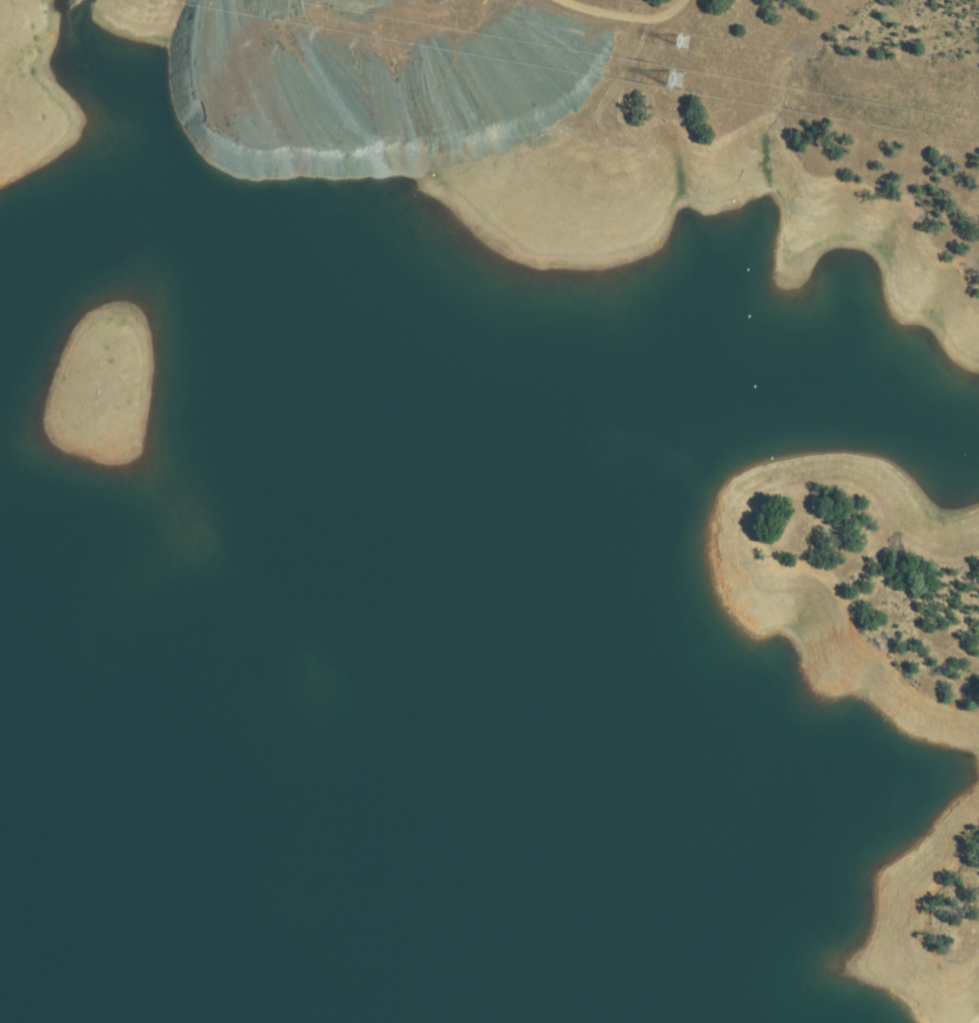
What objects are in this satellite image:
road: (624, 18)
power tower: (679, 42)
power tower: (673, 81)

